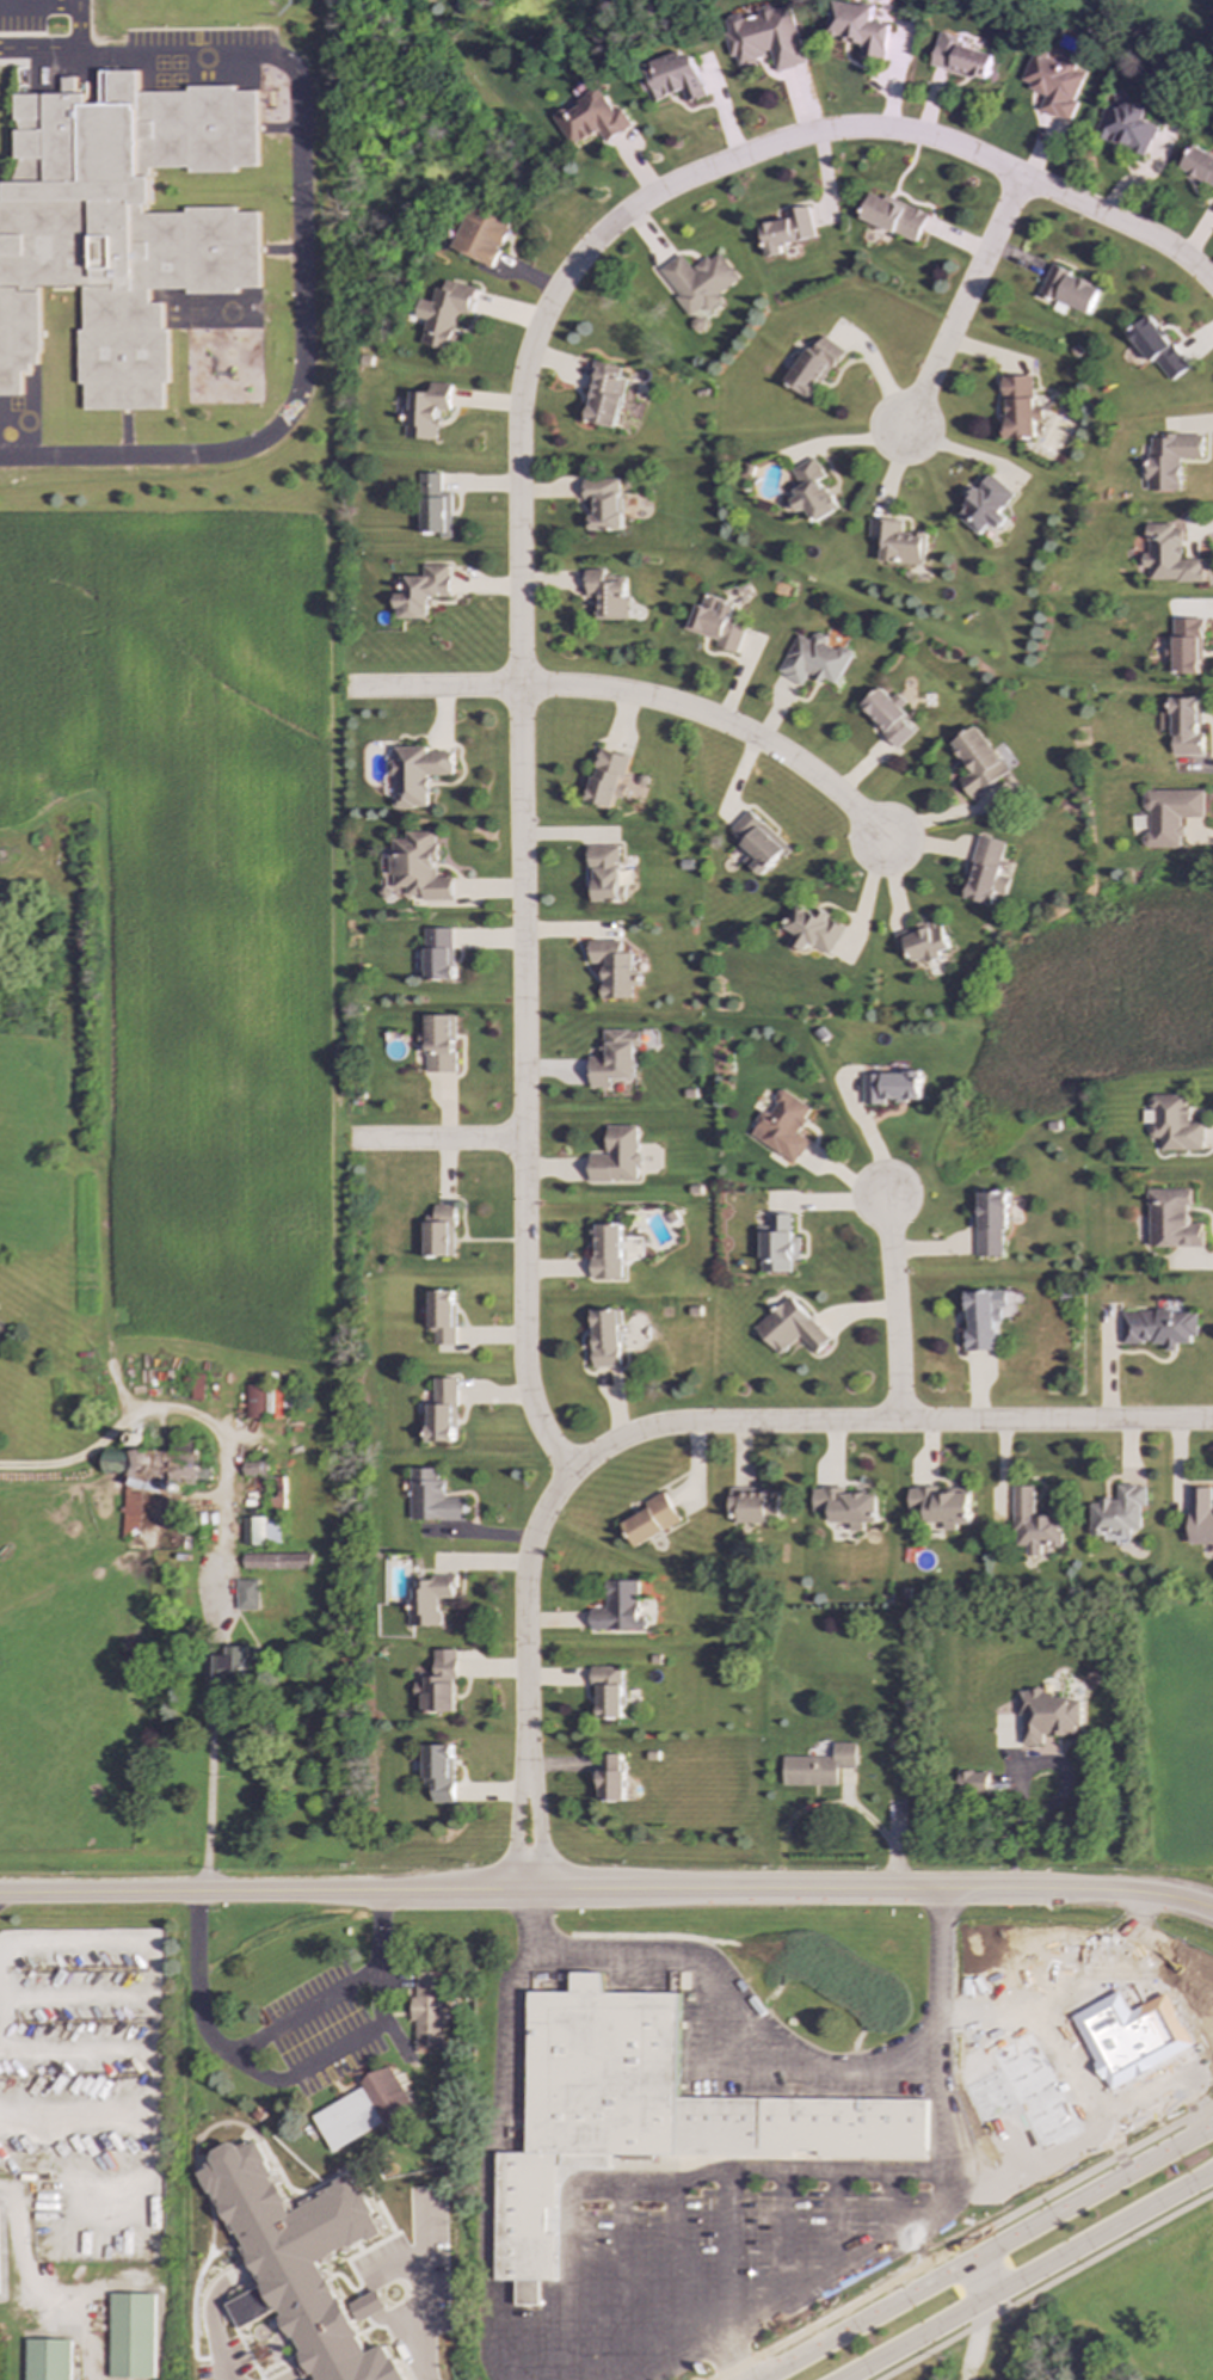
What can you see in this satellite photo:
road: (38, 5)
road: (76, 25)
building: (858, 29)
building: (764, 38)
building: (960, 59)
building: (671, 78)
building: (1053, 84)
building: (590, 116)
building: (1125, 128)
building: (1199, 166)
building: (141, 214)
building: (892, 216)
road: (1121, 226)
building: (786, 229)
building: (481, 235)
building: (12, 245)
road: (298, 245)
building: (698, 282)
building: (1067, 290)
road: (961, 305)
building: (445, 313)
building: (1157, 349)
building: (812, 367)
building: (609, 395)
building: (1017, 408)
building: (426, 412)
building: (1168, 459)
building: (811, 491)
building: (604, 503)
building: (984, 505)
building: (435, 506)
building: (895, 542)
building: (1166, 556)
building: (423, 591)
building: (606, 594)
road: (518, 623)
building: (714, 623)
building: (1183, 646)
building: (812, 659)
road: (431, 689)
building: (886, 715)
road: (720, 724)
building: (1183, 726)
building: (974, 762)
building: (418, 774)
building: (608, 777)
building: (1169, 814)
building: (757, 843)
building: (419, 867)
building: (984, 871)
building: (605, 873)
building: (813, 929)
building: (922, 942)
building: (438, 954)
building: (612, 968)
building: (438, 1043)
building: (614, 1058)
building: (891, 1087)
building: (1172, 1123)
building: (784, 1126)
road: (436, 1143)
building: (616, 1156)
building: (1171, 1219)
building: (991, 1223)
building: (439, 1231)
building: (778, 1244)
building: (606, 1252)
road: (895, 1310)
building: (443, 1316)
building: (983, 1318)
building: (792, 1328)
building: (1159, 1328)
building: (606, 1339)
building: (253, 1401)
building: (444, 1412)
road: (1138, 1422)
road: (813, 1423)
building: (116, 1462)
building: (164, 1468)
building: (255, 1469)
building: (435, 1498)
building: (756, 1505)
building: (845, 1506)
building: (942, 1506)
building: (131, 1513)
building: (1119, 1513)
building: (1201, 1515)
building: (652, 1520)
building: (1033, 1524)
building: (260, 1530)
building: (277, 1561)
building: (247, 1594)
building: (431, 1599)
road: (527, 1600)
building: (620, 1607)
building: (232, 1663)
building: (441, 1685)
building: (609, 1691)
road: (209, 1716)
building: (1047, 1716)
building: (819, 1766)
building: (441, 1771)
road: (1026, 1773)
building: (611, 1777)
building: (973, 1783)
road: (516, 1816)
road: (537, 1818)
road: (895, 1849)
road: (608, 1892)
road: (375, 1982)
building: (1103, 1999)
road: (293, 2011)
building: (429, 2011)
road: (1150, 2011)
road: (769, 2046)
road: (1057, 2047)
building: (363, 2109)
building: (651, 2115)
road: (64, 2116)
road: (1029, 2135)
road: (488, 2164)
road: (671, 2184)
road: (962, 2241)
road: (984, 2253)
road: (727, 2256)
building: (302, 2263)
road: (870, 2263)
road: (1023, 2276)
road: (981, 2277)
building: (0, 2282)
road: (1043, 2284)
road: (420, 2290)
building: (369, 2306)
building: (248, 2308)
road: (211, 2323)
building: (133, 2336)
building: (49, 2360)
road: (721, 2362)

